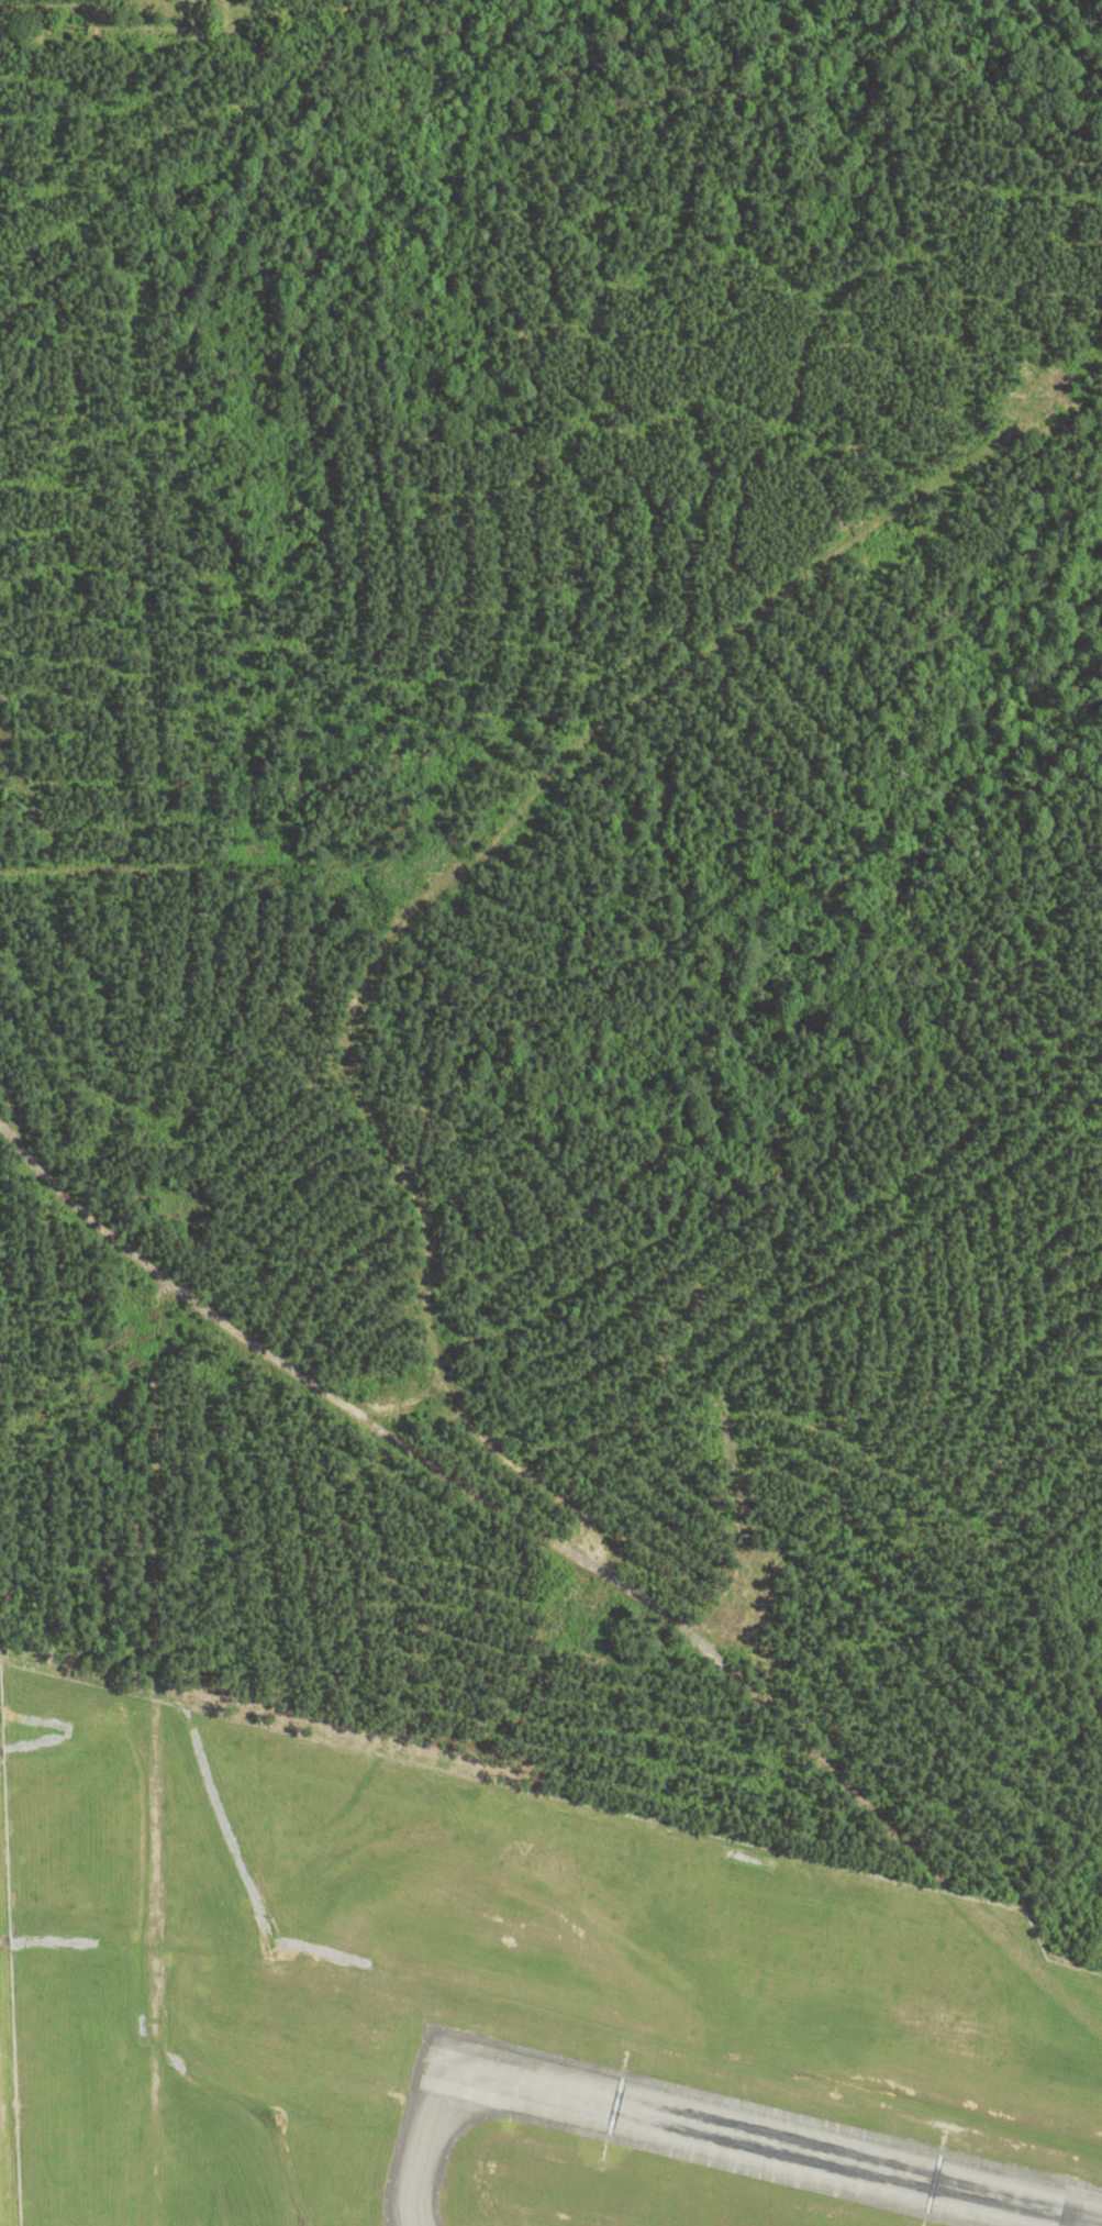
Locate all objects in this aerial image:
road: (146, 1464)
road: (475, 1489)
airport: (494, 2002)
airport taxiway: (426, 2135)
airport runway: (763, 2142)

